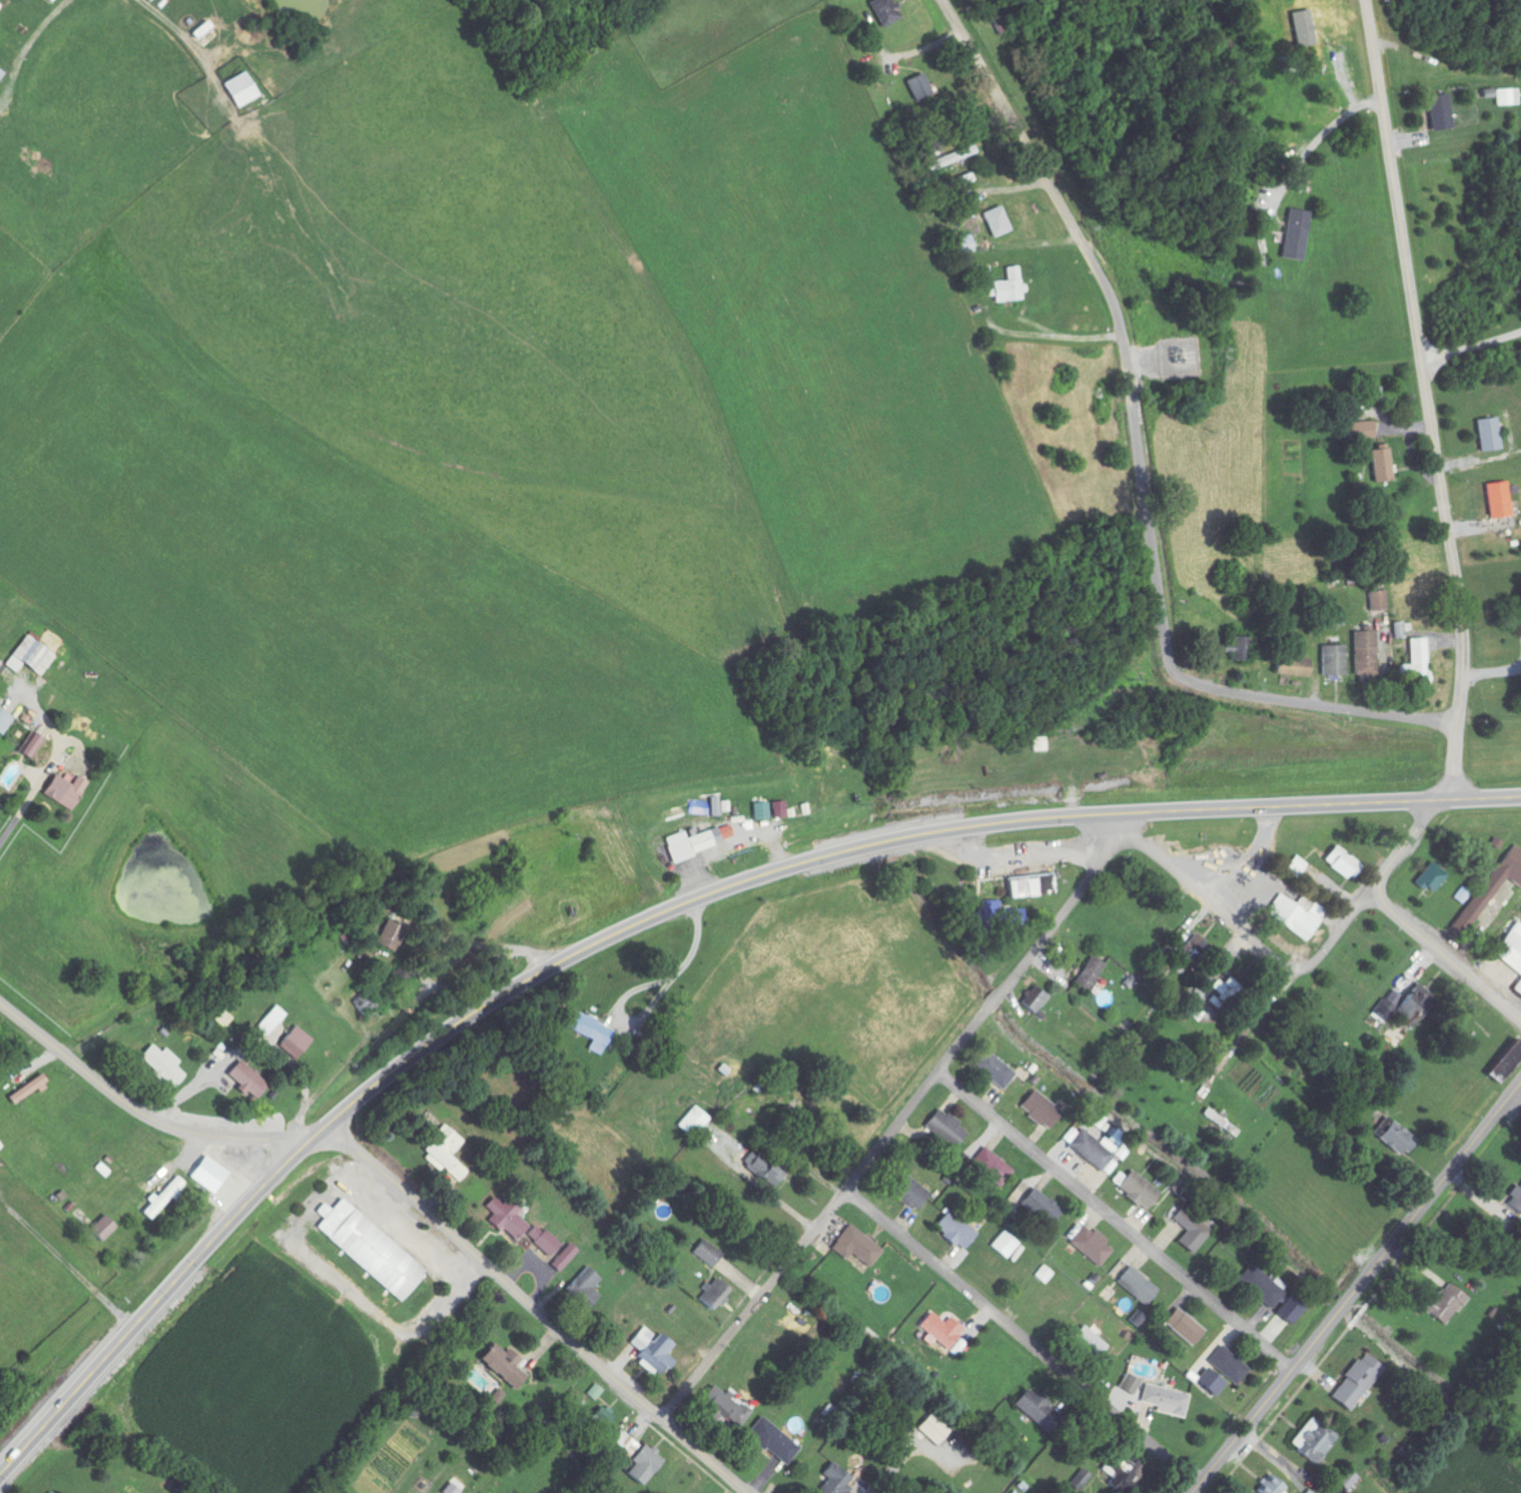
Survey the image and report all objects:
building: (56, 0)
building: (1, 4)
road: (1365, 5)
building: (881, 11)
building: (2, 74)
building: (916, 86)
building: (242, 90)
building: (1506, 96)
building: (1438, 112)
building: (957, 155)
building: (995, 221)
building: (1293, 234)
building: (964, 244)
building: (1008, 286)
building: (1362, 430)
building: (1488, 434)
road: (1140, 456)
road: (1436, 460)
building: (1380, 464)
building: (1498, 500)
building: (1379, 600)
building: (1401, 629)
building: (1236, 648)
building: (1364, 652)
building: (33, 657)
building: (1333, 660)
building: (1416, 663)
building: (1292, 665)
building: (5, 722)
building: (1038, 744)
building: (33, 745)
building: (69, 791)
building: (777, 809)
building: (759, 811)
road: (1112, 821)
building: (725, 832)
building: (685, 844)
building: (1339, 862)
building: (1295, 866)
building: (1429, 878)
building: (1497, 880)
building: (1029, 886)
road: (660, 913)
building: (997, 916)
building: (1292, 918)
building: (396, 936)
road: (1246, 936)
building: (1192, 949)
building: (1511, 954)
road: (1442, 959)
building: (1087, 973)
building: (399, 978)
building: (1222, 992)
building: (1033, 1001)
building: (1401, 1005)
building: (1196, 1013)
building: (276, 1021)
building: (588, 1030)
building: (301, 1043)
building: (1503, 1061)
building: (168, 1065)
building: (992, 1069)
building: (252, 1080)
building: (32, 1090)
building: (1037, 1108)
road: (141, 1111)
road: (891, 1127)
building: (946, 1128)
building: (1395, 1138)
building: (1090, 1150)
building: (442, 1153)
building: (990, 1166)
building: (207, 1174)
building: (1136, 1189)
building: (906, 1190)
building: (162, 1197)
building: (1515, 1199)
building: (1038, 1207)
building: (504, 1216)
road: (1114, 1219)
building: (101, 1228)
building: (953, 1229)
building: (1191, 1229)
building: (539, 1239)
building: (1002, 1245)
building: (1091, 1245)
building: (854, 1246)
building: (367, 1247)
building: (705, 1252)
building: (562, 1257)
building: (1043, 1274)
building: (1133, 1281)
building: (582, 1287)
road: (1356, 1288)
building: (1265, 1291)
building: (712, 1294)
building: (1443, 1304)
road: (533, 1308)
building: (1184, 1326)
building: (940, 1329)
road: (1022, 1335)
building: (1087, 1342)
building: (649, 1347)
building: (1227, 1364)
building: (501, 1365)
building: (1354, 1381)
building: (1209, 1382)
building: (1129, 1383)
building: (497, 1396)
building: (1165, 1400)
building: (724, 1408)
building: (1033, 1408)
building: (930, 1429)
building: (769, 1440)
building: (621, 1444)
building: (1315, 1445)
building: (640, 1464)
building: (1347, 1479)
building: (831, 1481)
building: (1270, 1485)

